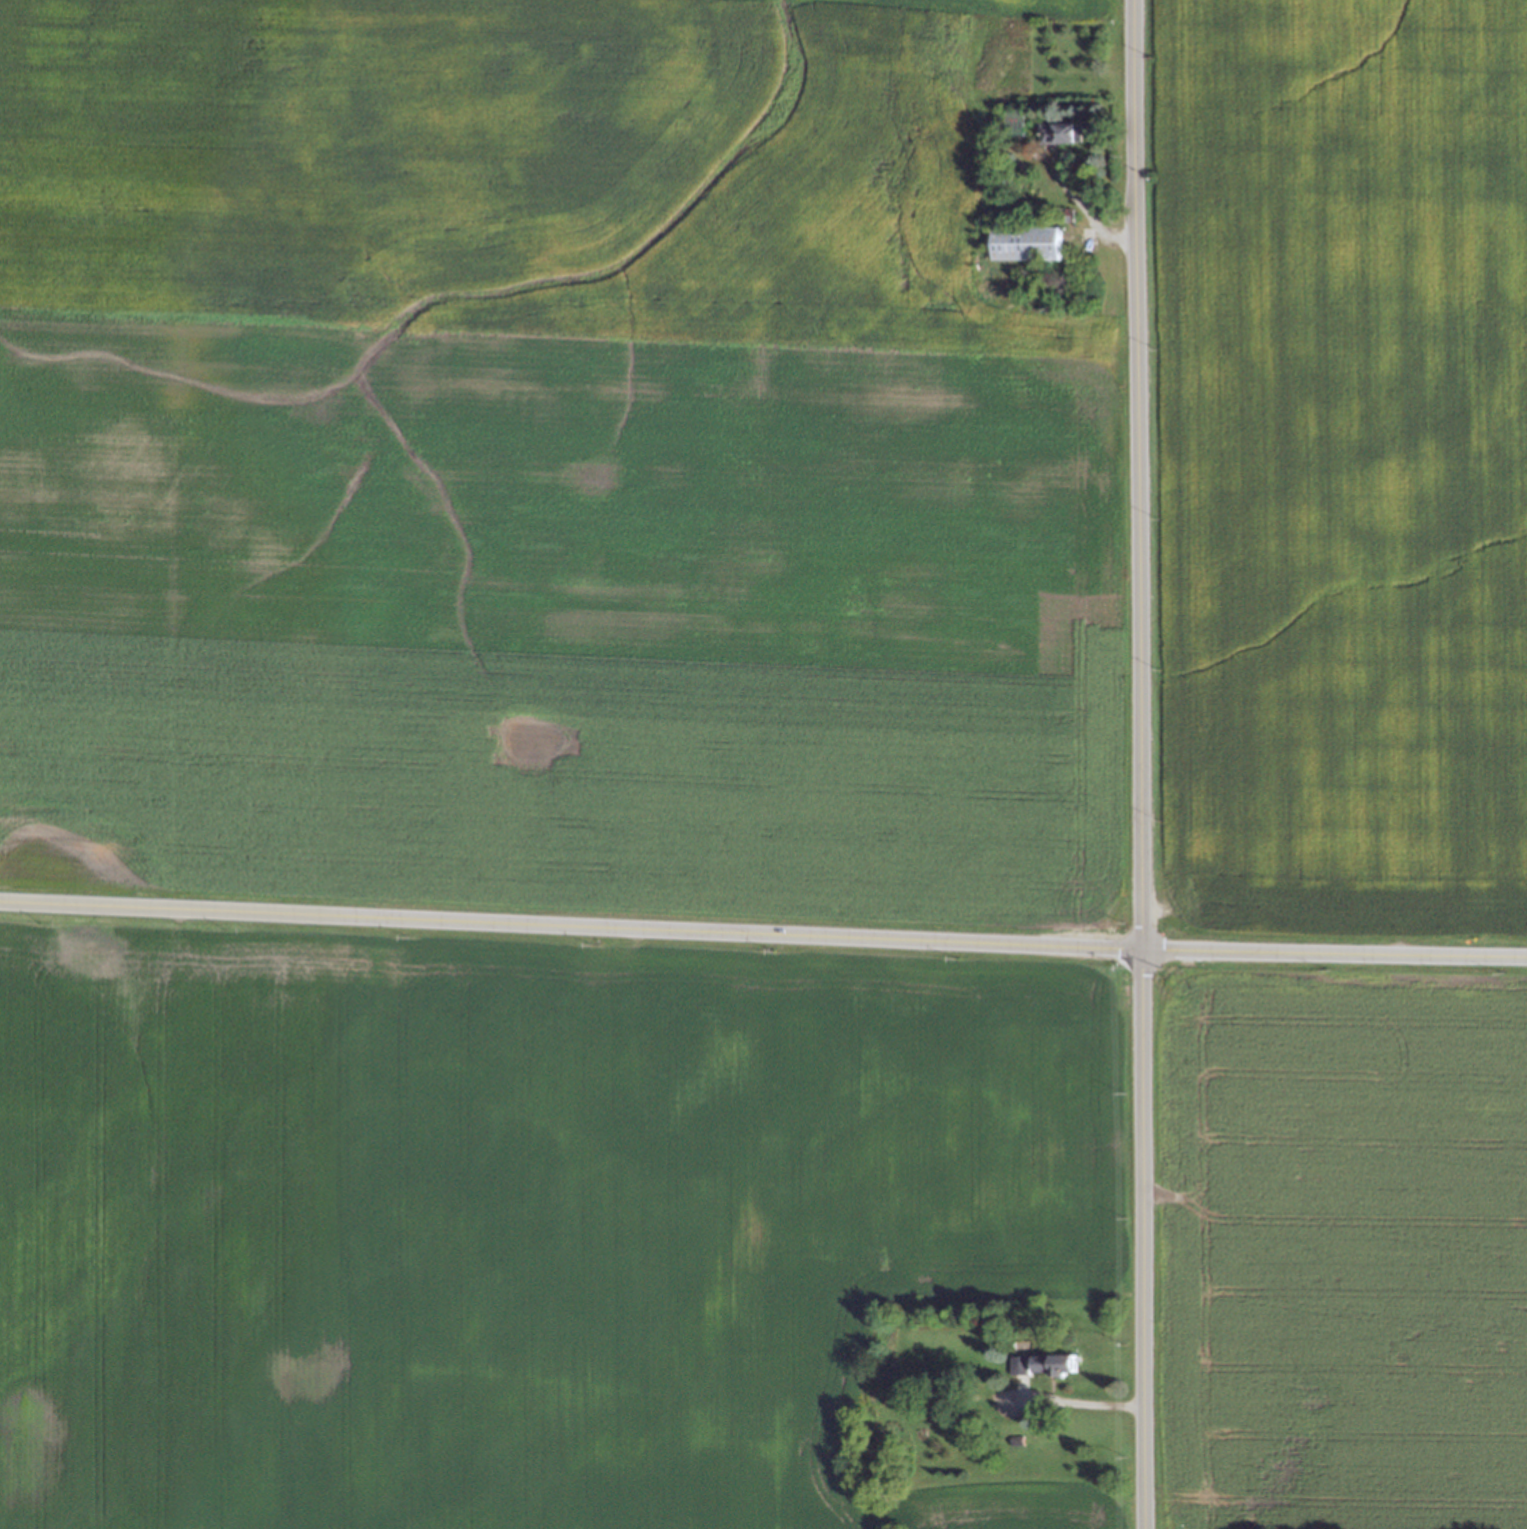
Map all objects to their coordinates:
building: (1009, 121)
building: (1058, 131)
building: (1065, 214)
building: (1021, 242)
crop: (545, 467)
crop: (1338, 467)
road: (1140, 764)
road: (571, 925)
road: (1334, 952)
crop: (517, 1218)
crop: (1345, 1252)
building: (1052, 1360)
building: (1016, 1361)
road: (1072, 1400)
building: (1012, 1438)

